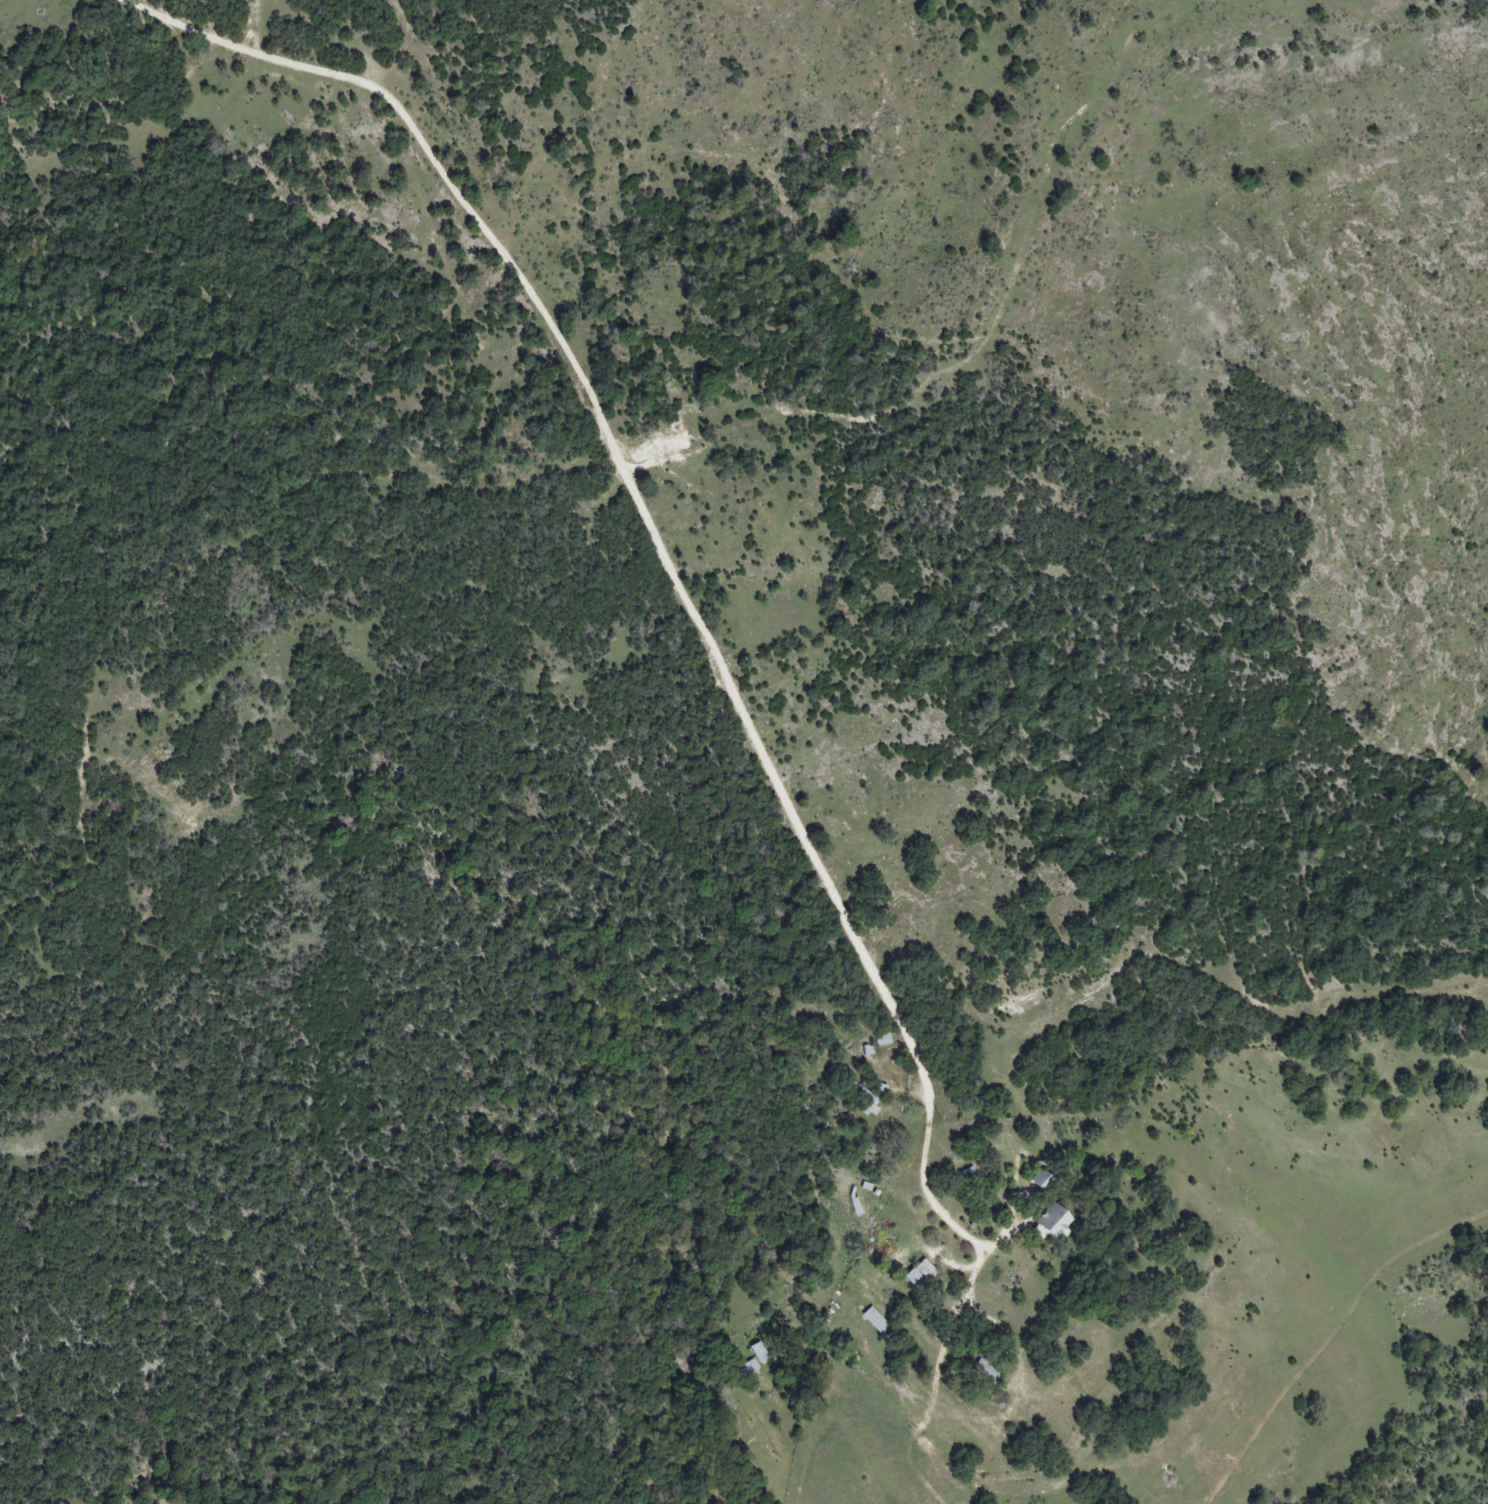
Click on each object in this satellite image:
building: (1052, 1222)
building: (921, 1274)
building: (759, 1352)

